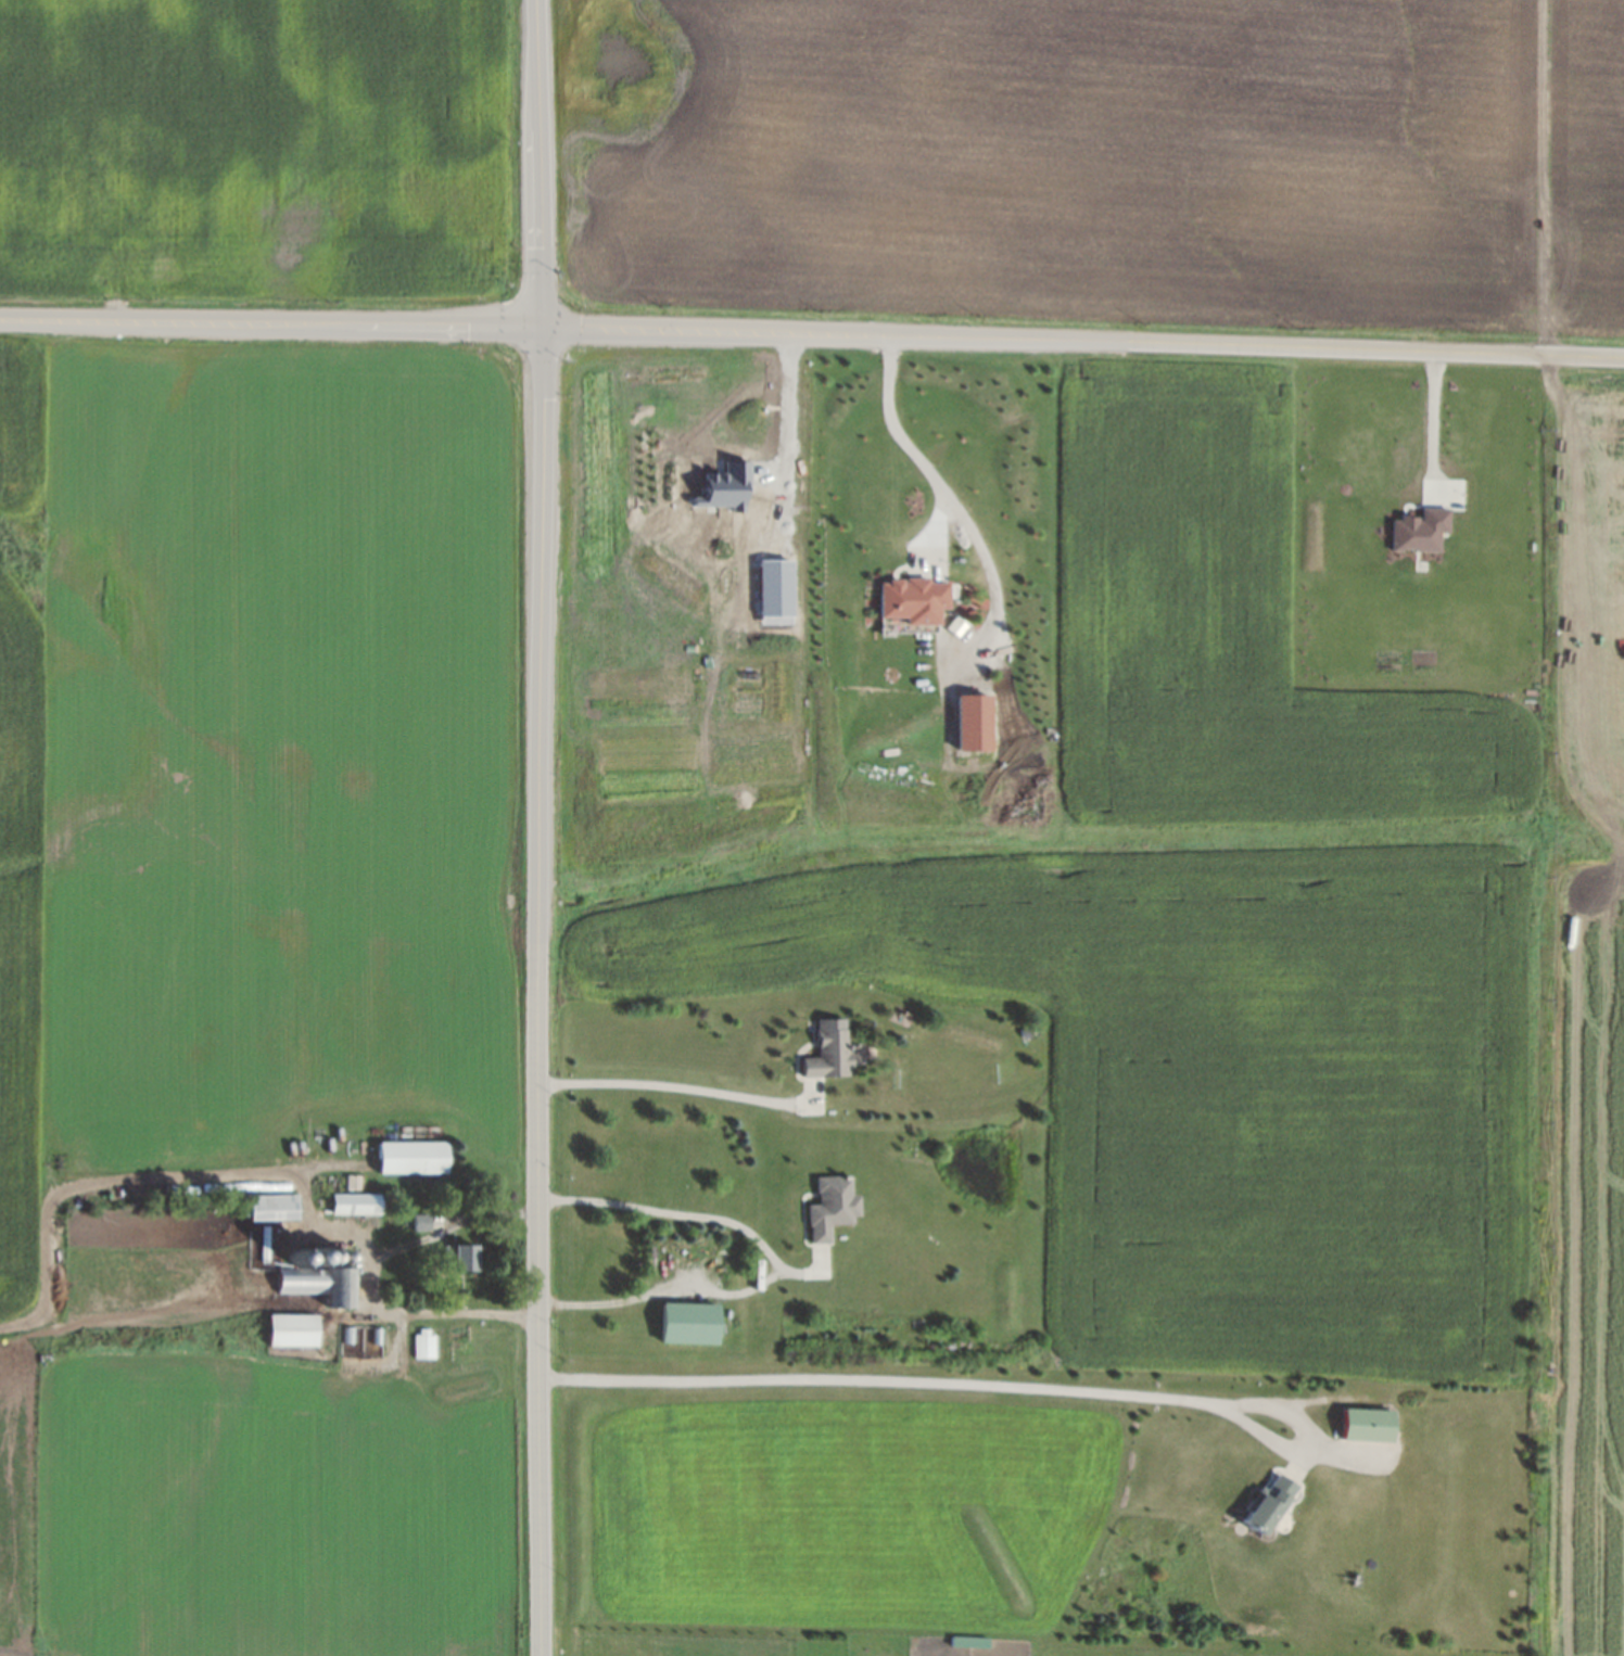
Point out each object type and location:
crop: (251, 145)
crop: (1055, 153)
crop: (1581, 156)
road: (268, 320)
road: (1080, 337)
road: (791, 407)
road: (1430, 416)
road: (903, 447)
building: (725, 486)
building: (1419, 530)
road: (988, 558)
building: (774, 590)
building: (909, 599)
crop: (1595, 610)
building: (956, 625)
crop: (1231, 635)
building: (973, 722)
crop: (272, 752)
road: (537, 827)
crop: (25, 846)
building: (1020, 1029)
building: (824, 1055)
crop: (1220, 1082)
road: (665, 1086)
building: (407, 1156)
building: (351, 1201)
building: (267, 1205)
building: (827, 1207)
building: (417, 1220)
building: (261, 1241)
building: (457, 1251)
building: (309, 1254)
building: (326, 1254)
building: (341, 1256)
building: (292, 1257)
road: (773, 1260)
crop: (1595, 1266)
road: (365, 1277)
building: (317, 1283)
building: (685, 1321)
building: (288, 1327)
building: (422, 1341)
road: (991, 1384)
building: (1358, 1423)
building: (1266, 1505)

